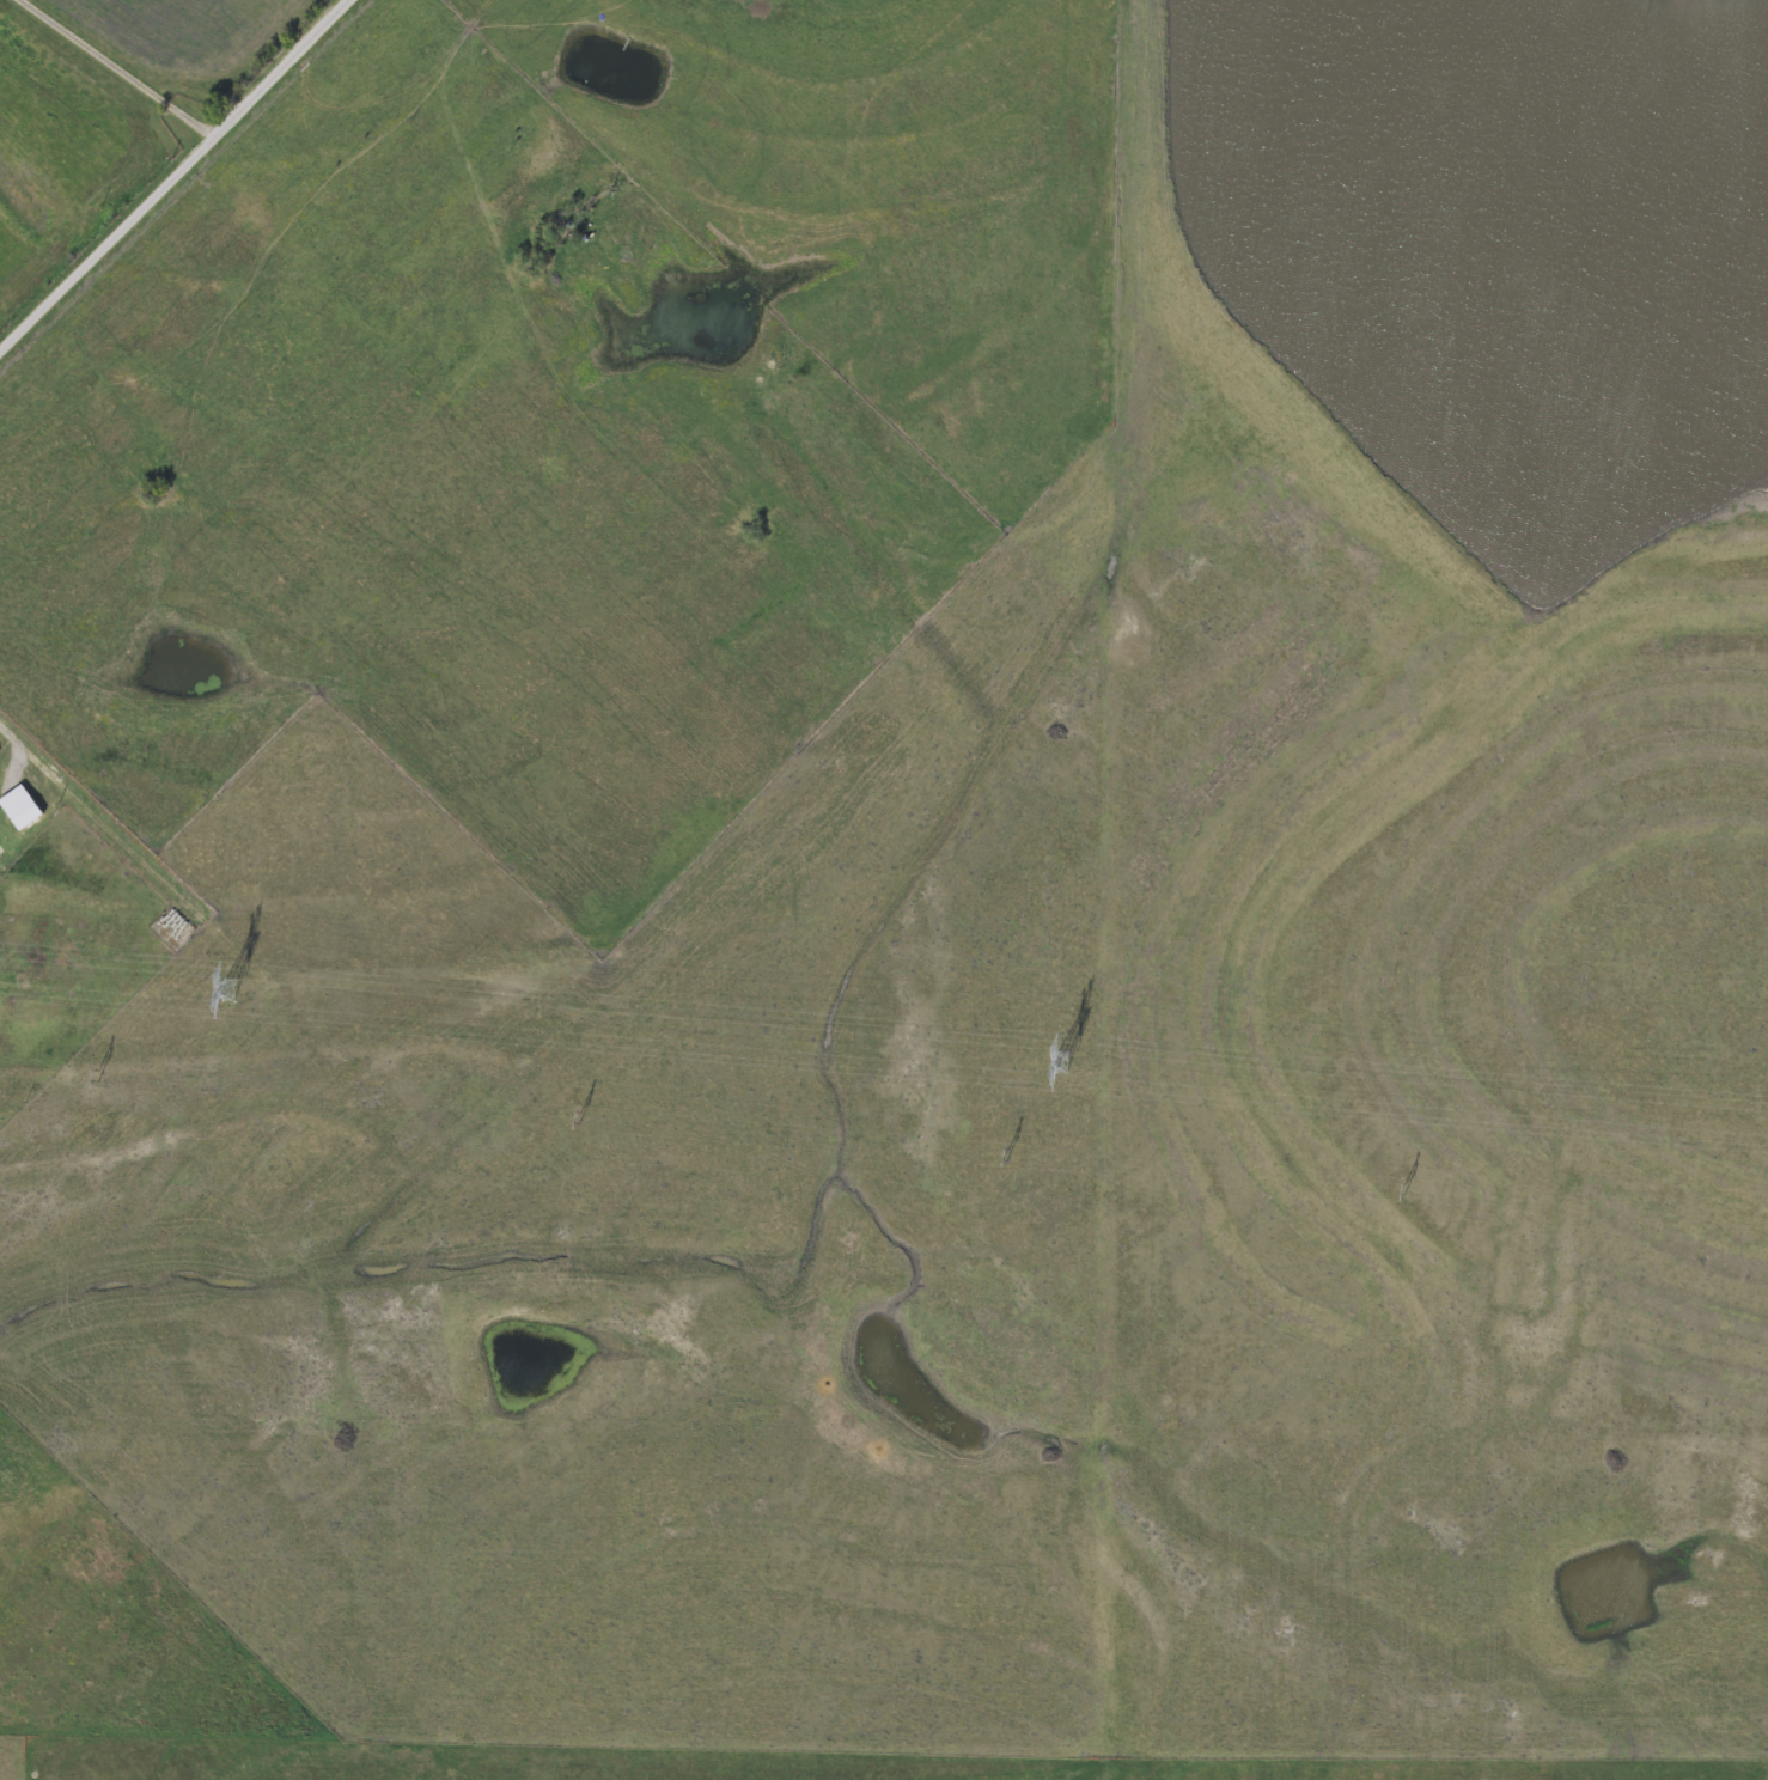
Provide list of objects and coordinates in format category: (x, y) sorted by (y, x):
road: (120, 67)
road: (173, 175)
road: (32, 757)
building: (171, 922)
power tower: (232, 989)
power tower: (1061, 1061)

